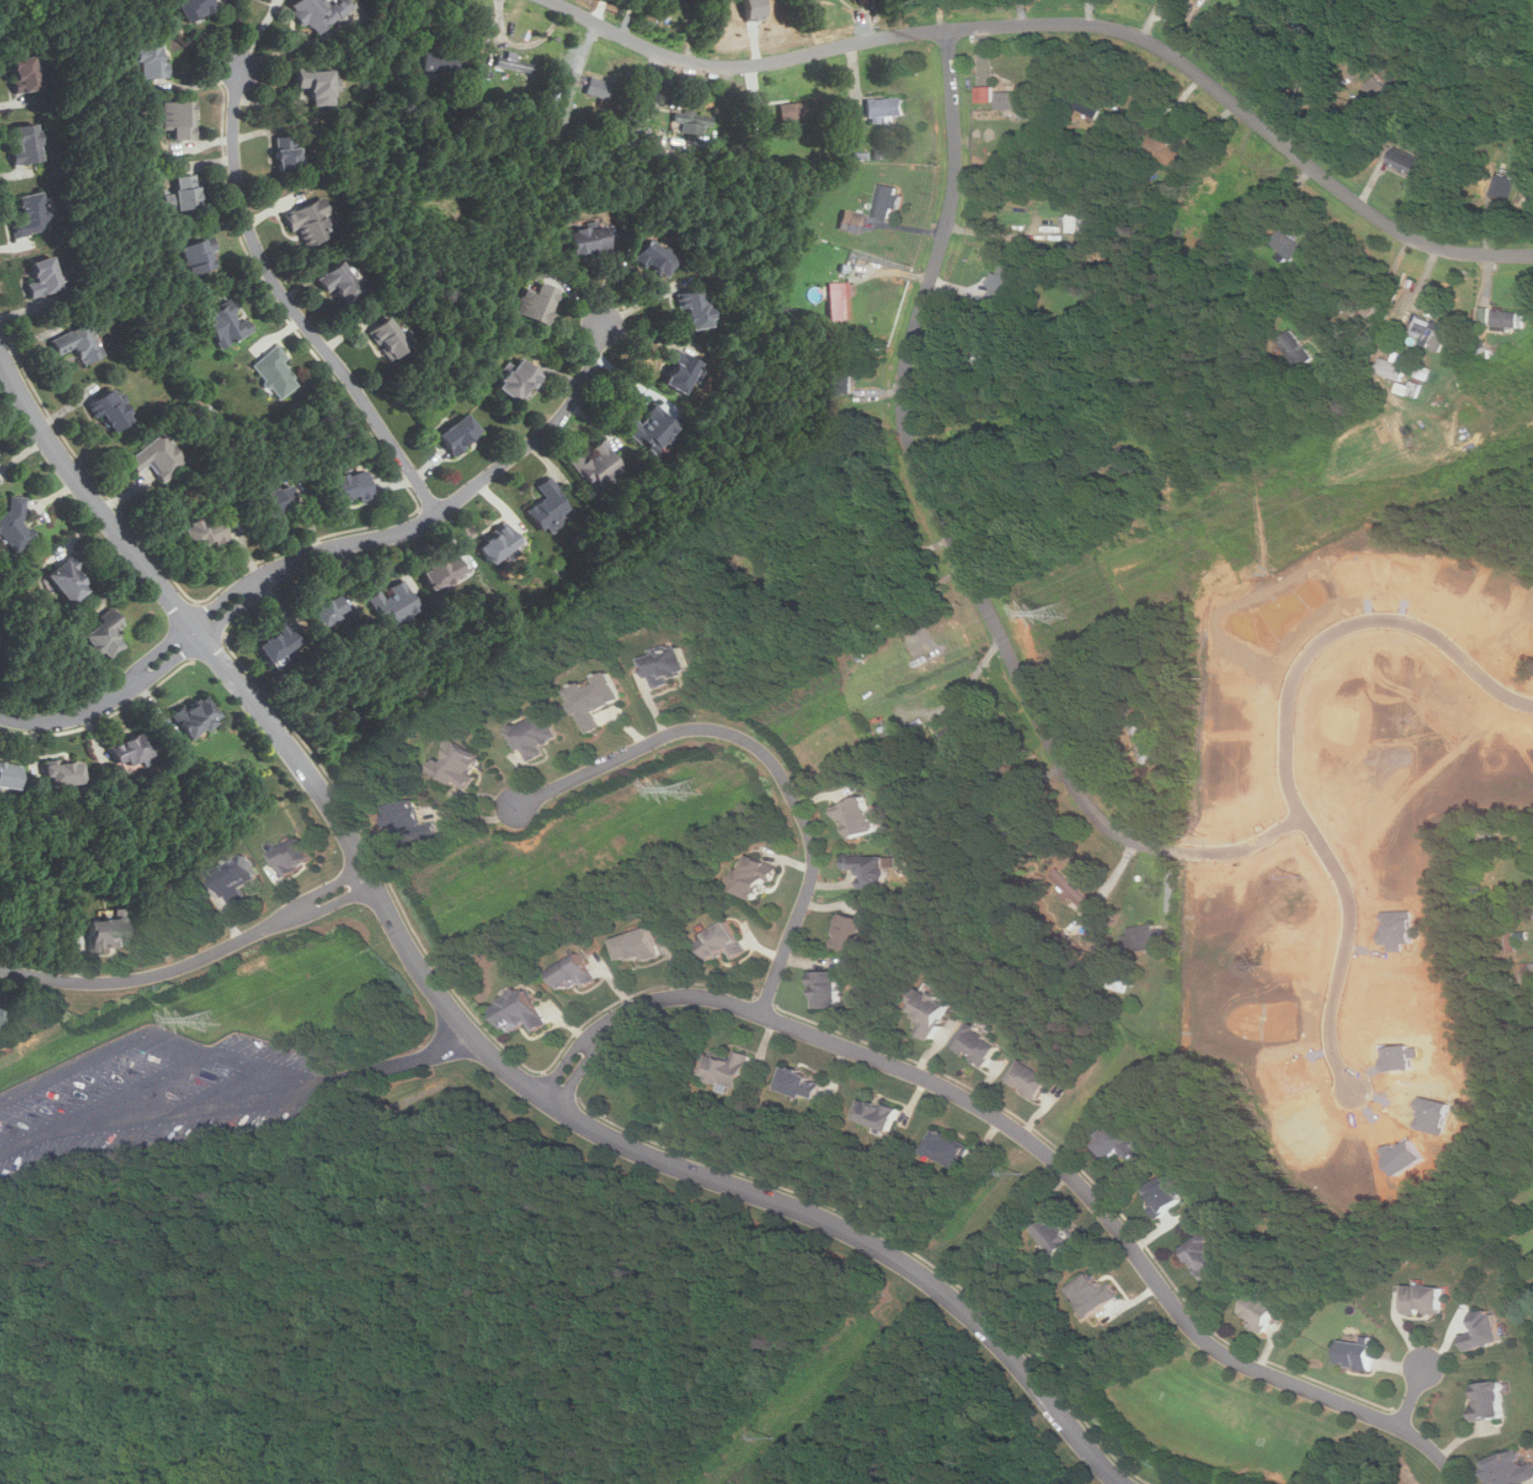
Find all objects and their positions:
building: (194, 8)
building: (319, 12)
road: (940, 15)
road: (1069, 23)
building: (151, 58)
building: (439, 60)
building: (513, 63)
building: (24, 74)
building: (316, 83)
building: (598, 87)
building: (1379, 90)
building: (984, 93)
building: (1015, 99)
road: (1320, 103)
building: (884, 108)
building: (794, 112)
building: (179, 118)
building: (690, 122)
building: (26, 144)
building: (287, 153)
building: (1169, 153)
building: (1531, 162)
building: (1411, 163)
building: (1501, 187)
building: (188, 191)
building: (888, 202)
building: (33, 215)
building: (1072, 217)
building: (852, 220)
building: (312, 224)
building: (588, 240)
building: (1285, 244)
building: (199, 255)
building: (655, 258)
building: (43, 277)
building: (340, 282)
building: (1007, 282)
building: (845, 299)
building: (537, 302)
road: (291, 307)
building: (694, 307)
road: (1370, 310)
building: (1506, 319)
building: (227, 324)
building: (1434, 332)
building: (388, 338)
building: (79, 343)
building: (1296, 348)
building: (979, 365)
building: (1394, 369)
building: (276, 371)
building: (680, 371)
building: (843, 377)
building: (518, 381)
building: (1410, 388)
building: (110, 410)
building: (652, 428)
building: (458, 433)
building: (159, 457)
building: (595, 464)
road: (927, 484)
building: (348, 486)
building: (276, 499)
building: (547, 504)
building: (16, 524)
building: (204, 532)
building: (498, 544)
road: (327, 548)
road: (883, 558)
building: (443, 572)
building: (66, 581)
building: (394, 603)
power tower: (1058, 609)
building: (327, 610)
building: (103, 635)
building: (276, 644)
building: (667, 665)
road: (972, 680)
building: (596, 700)
building: (194, 716)
building: (535, 735)
building: (963, 741)
road: (1287, 745)
building: (129, 750)
road: (768, 754)
building: (459, 765)
building: (62, 772)
building: (8, 776)
power tower: (694, 784)
building: (858, 817)
building: (410, 823)
road: (1246, 846)
building: (294, 857)
building: (871, 870)
building: (756, 877)
building: (235, 878)
building: (1068, 904)
building: (852, 933)
building: (104, 934)
building: (1143, 940)
building: (724, 942)
building: (637, 947)
road: (191, 962)
building: (574, 973)
building: (828, 990)
building: (521, 1011)
building: (930, 1012)
power tower: (214, 1016)
building: (1, 1020)
road: (462, 1025)
building: (980, 1045)
road: (103, 1052)
road: (397, 1065)
road: (267, 1069)
building: (728, 1069)
building: (1032, 1080)
building: (802, 1084)
road: (106, 1104)
road: (202, 1111)
building: (879, 1114)
road: (1034, 1137)
building: (1119, 1144)
building: (948, 1149)
building: (1163, 1196)
building: (1058, 1236)
building: (1206, 1257)
building: (1093, 1294)
building: (1425, 1300)
building: (1260, 1311)
building: (1485, 1331)
building: (1359, 1353)
road: (1411, 1394)
building: (1489, 1403)
building: (1510, 1470)

